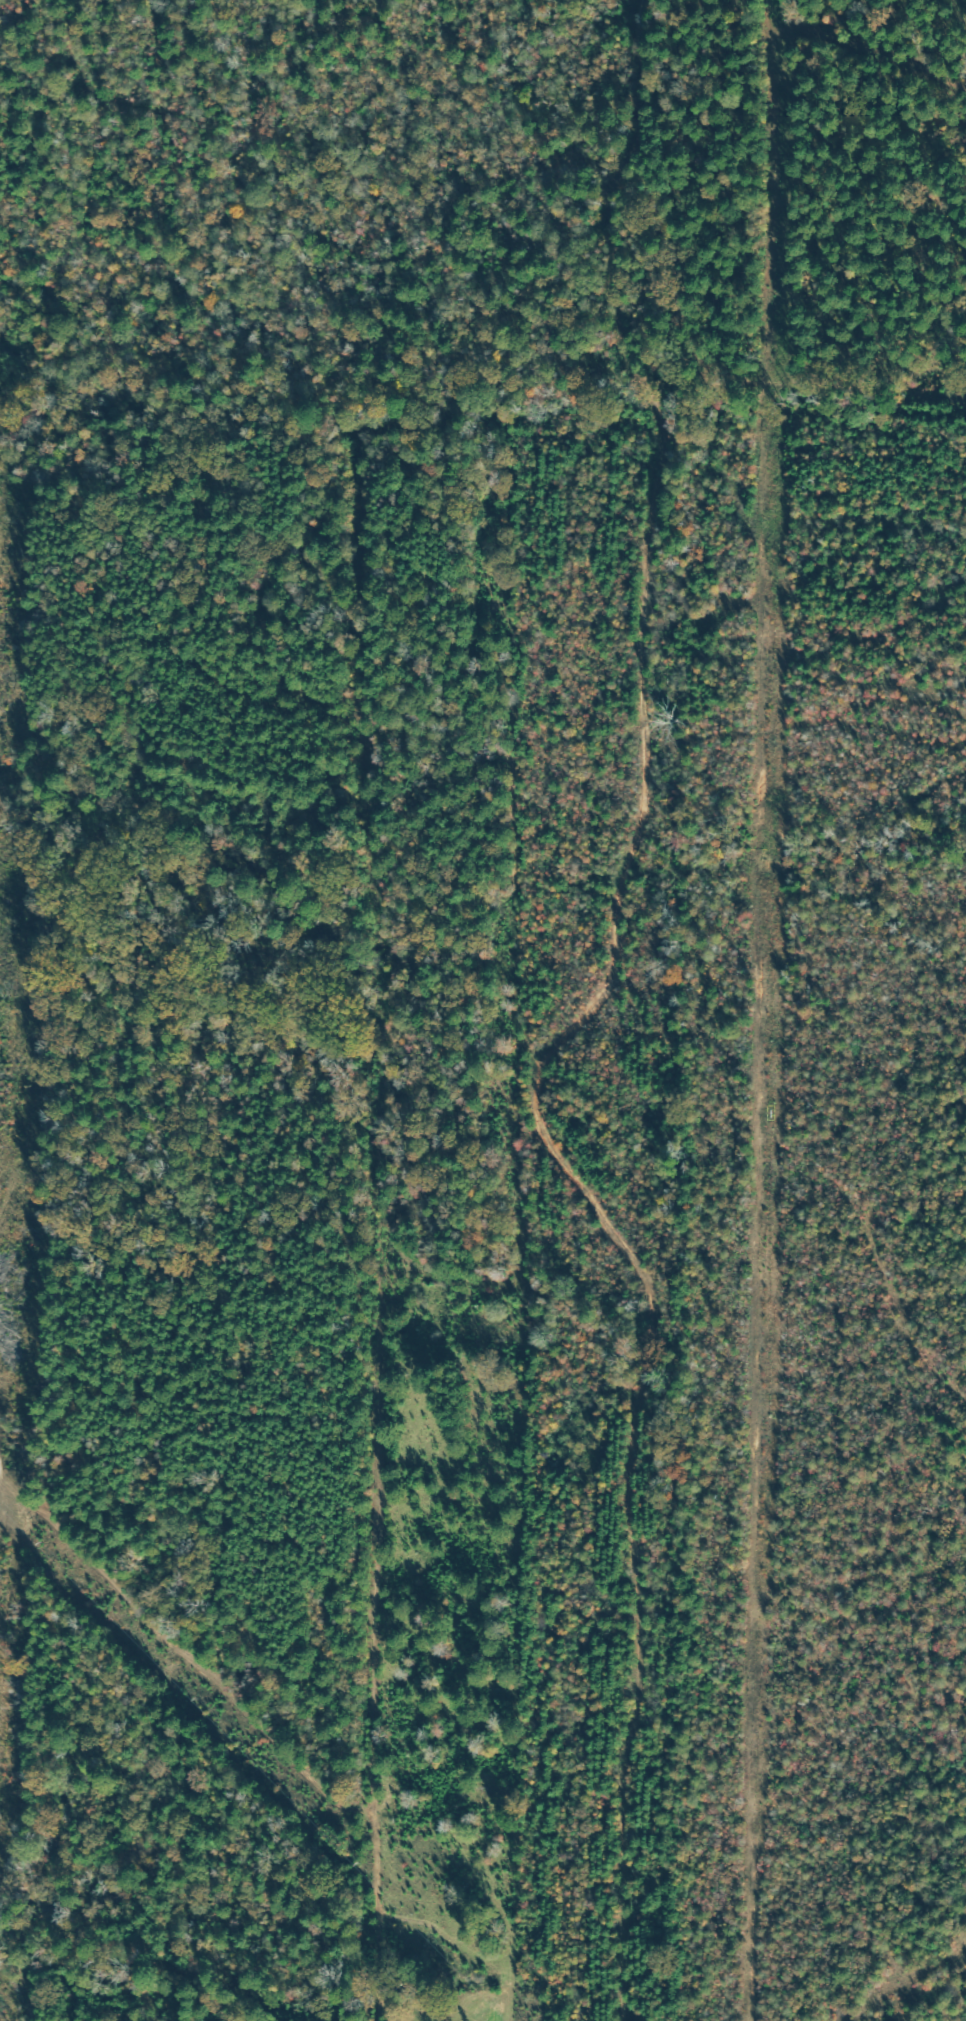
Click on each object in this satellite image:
road: (610, 289)

